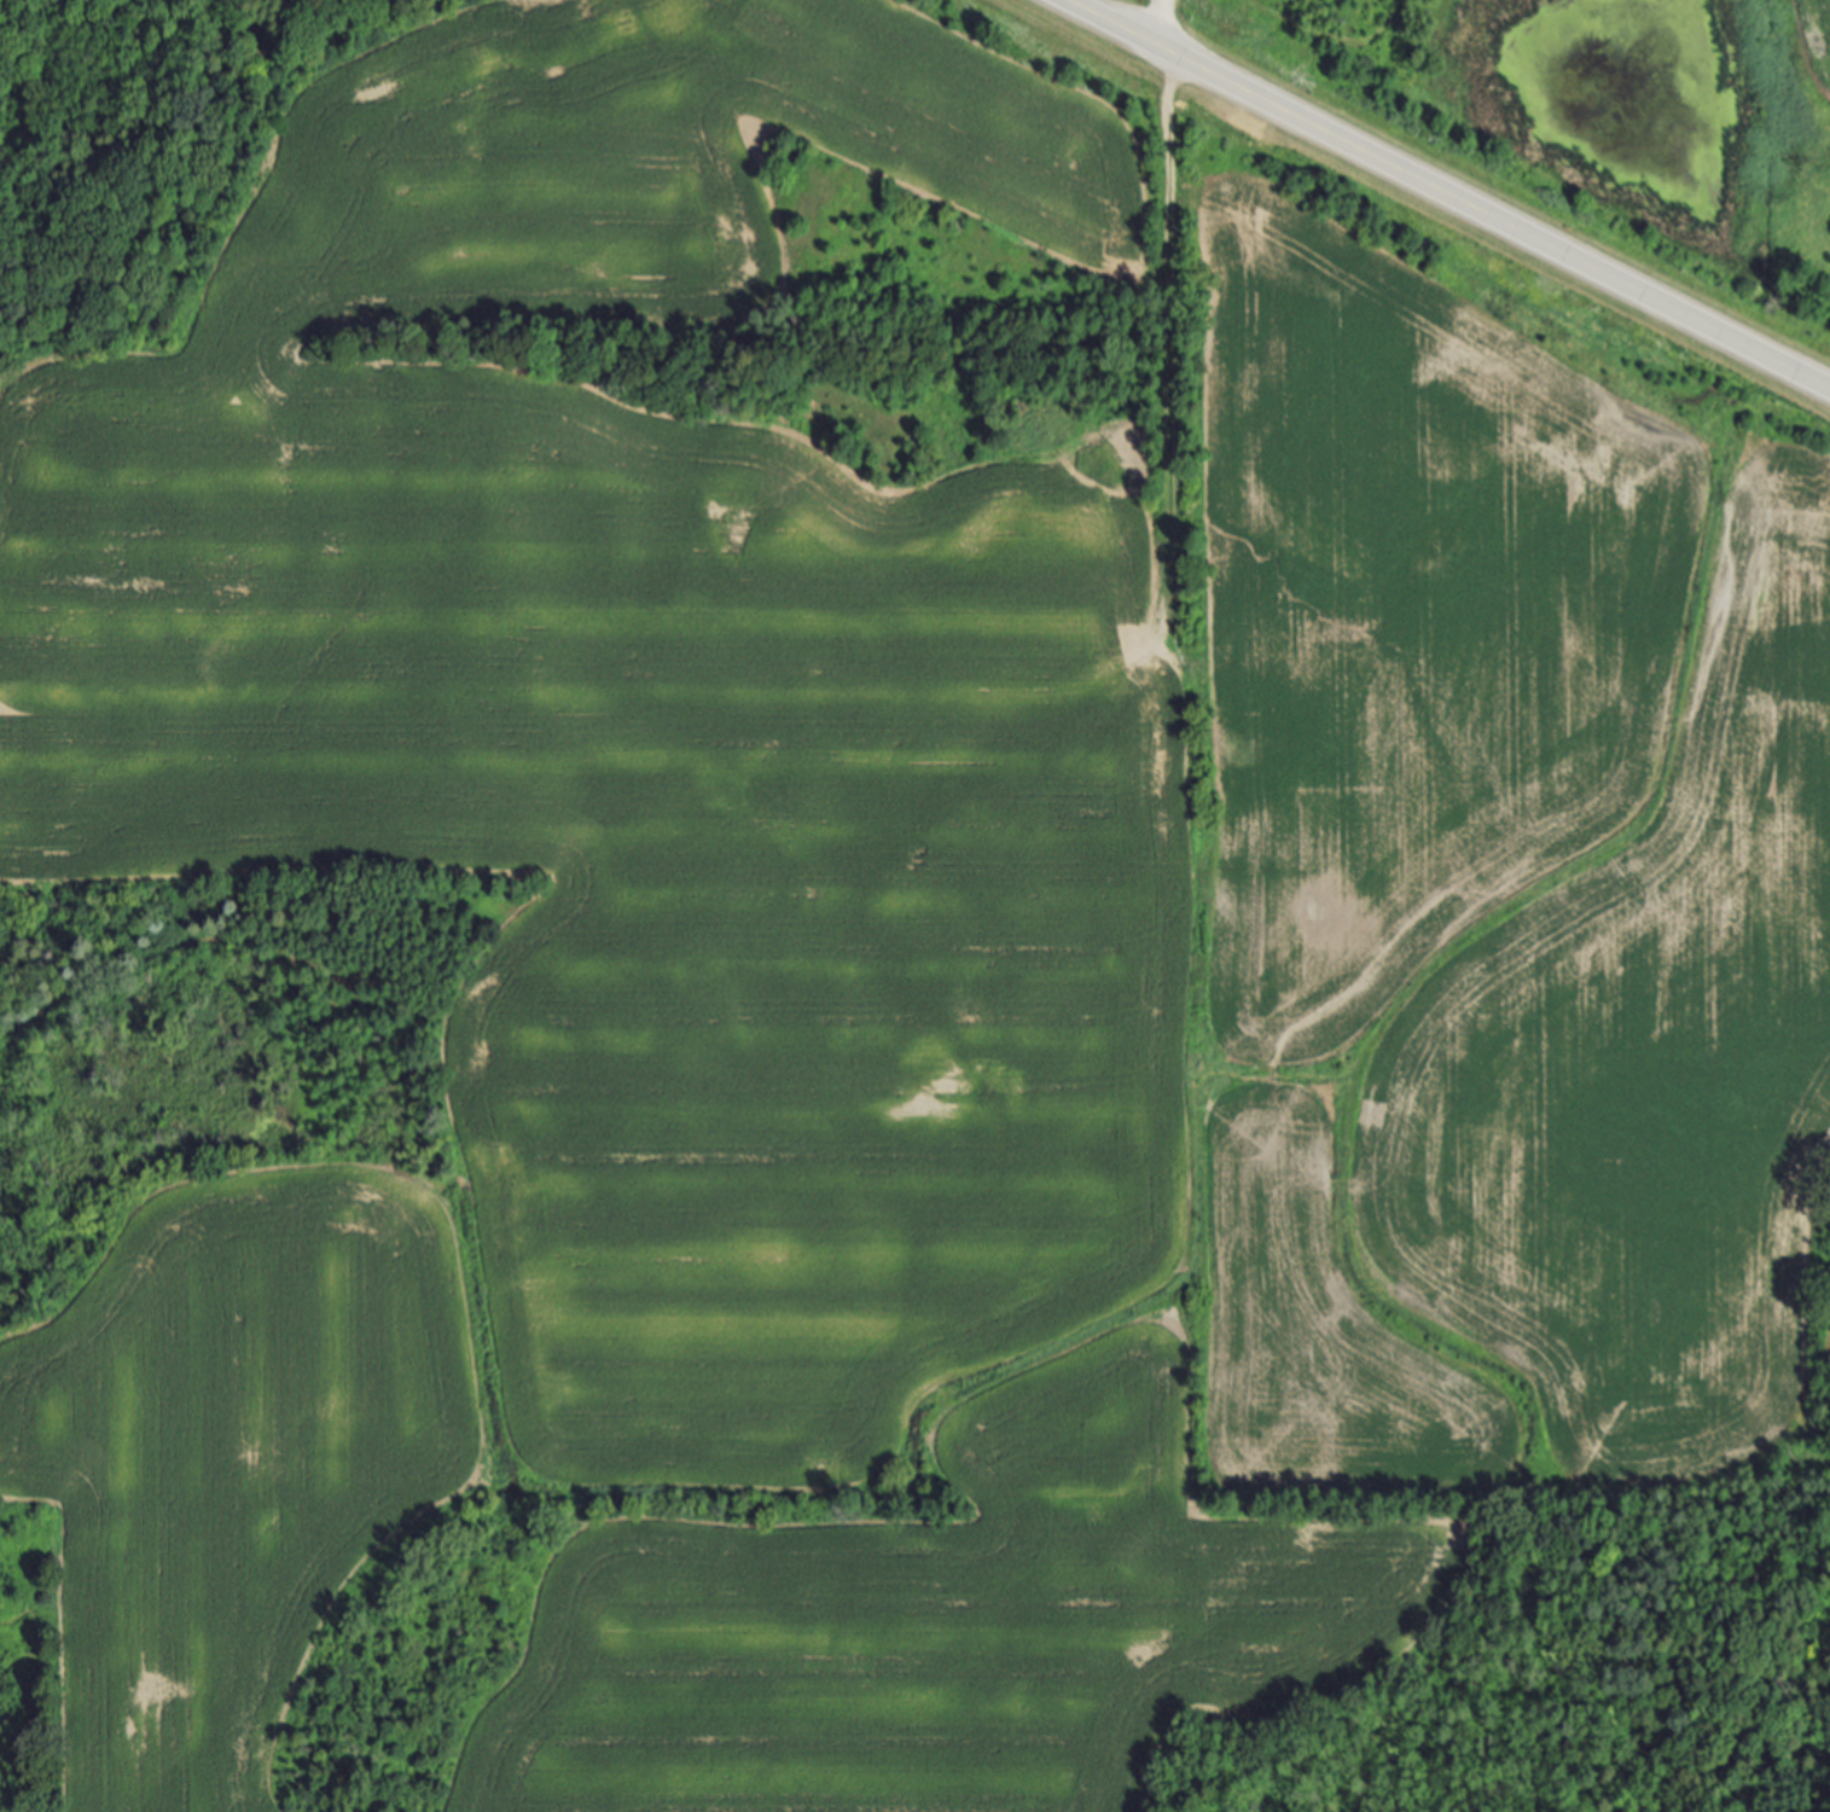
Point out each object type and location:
road: (1158, 22)
road: (1448, 194)
road: (1169, 338)

